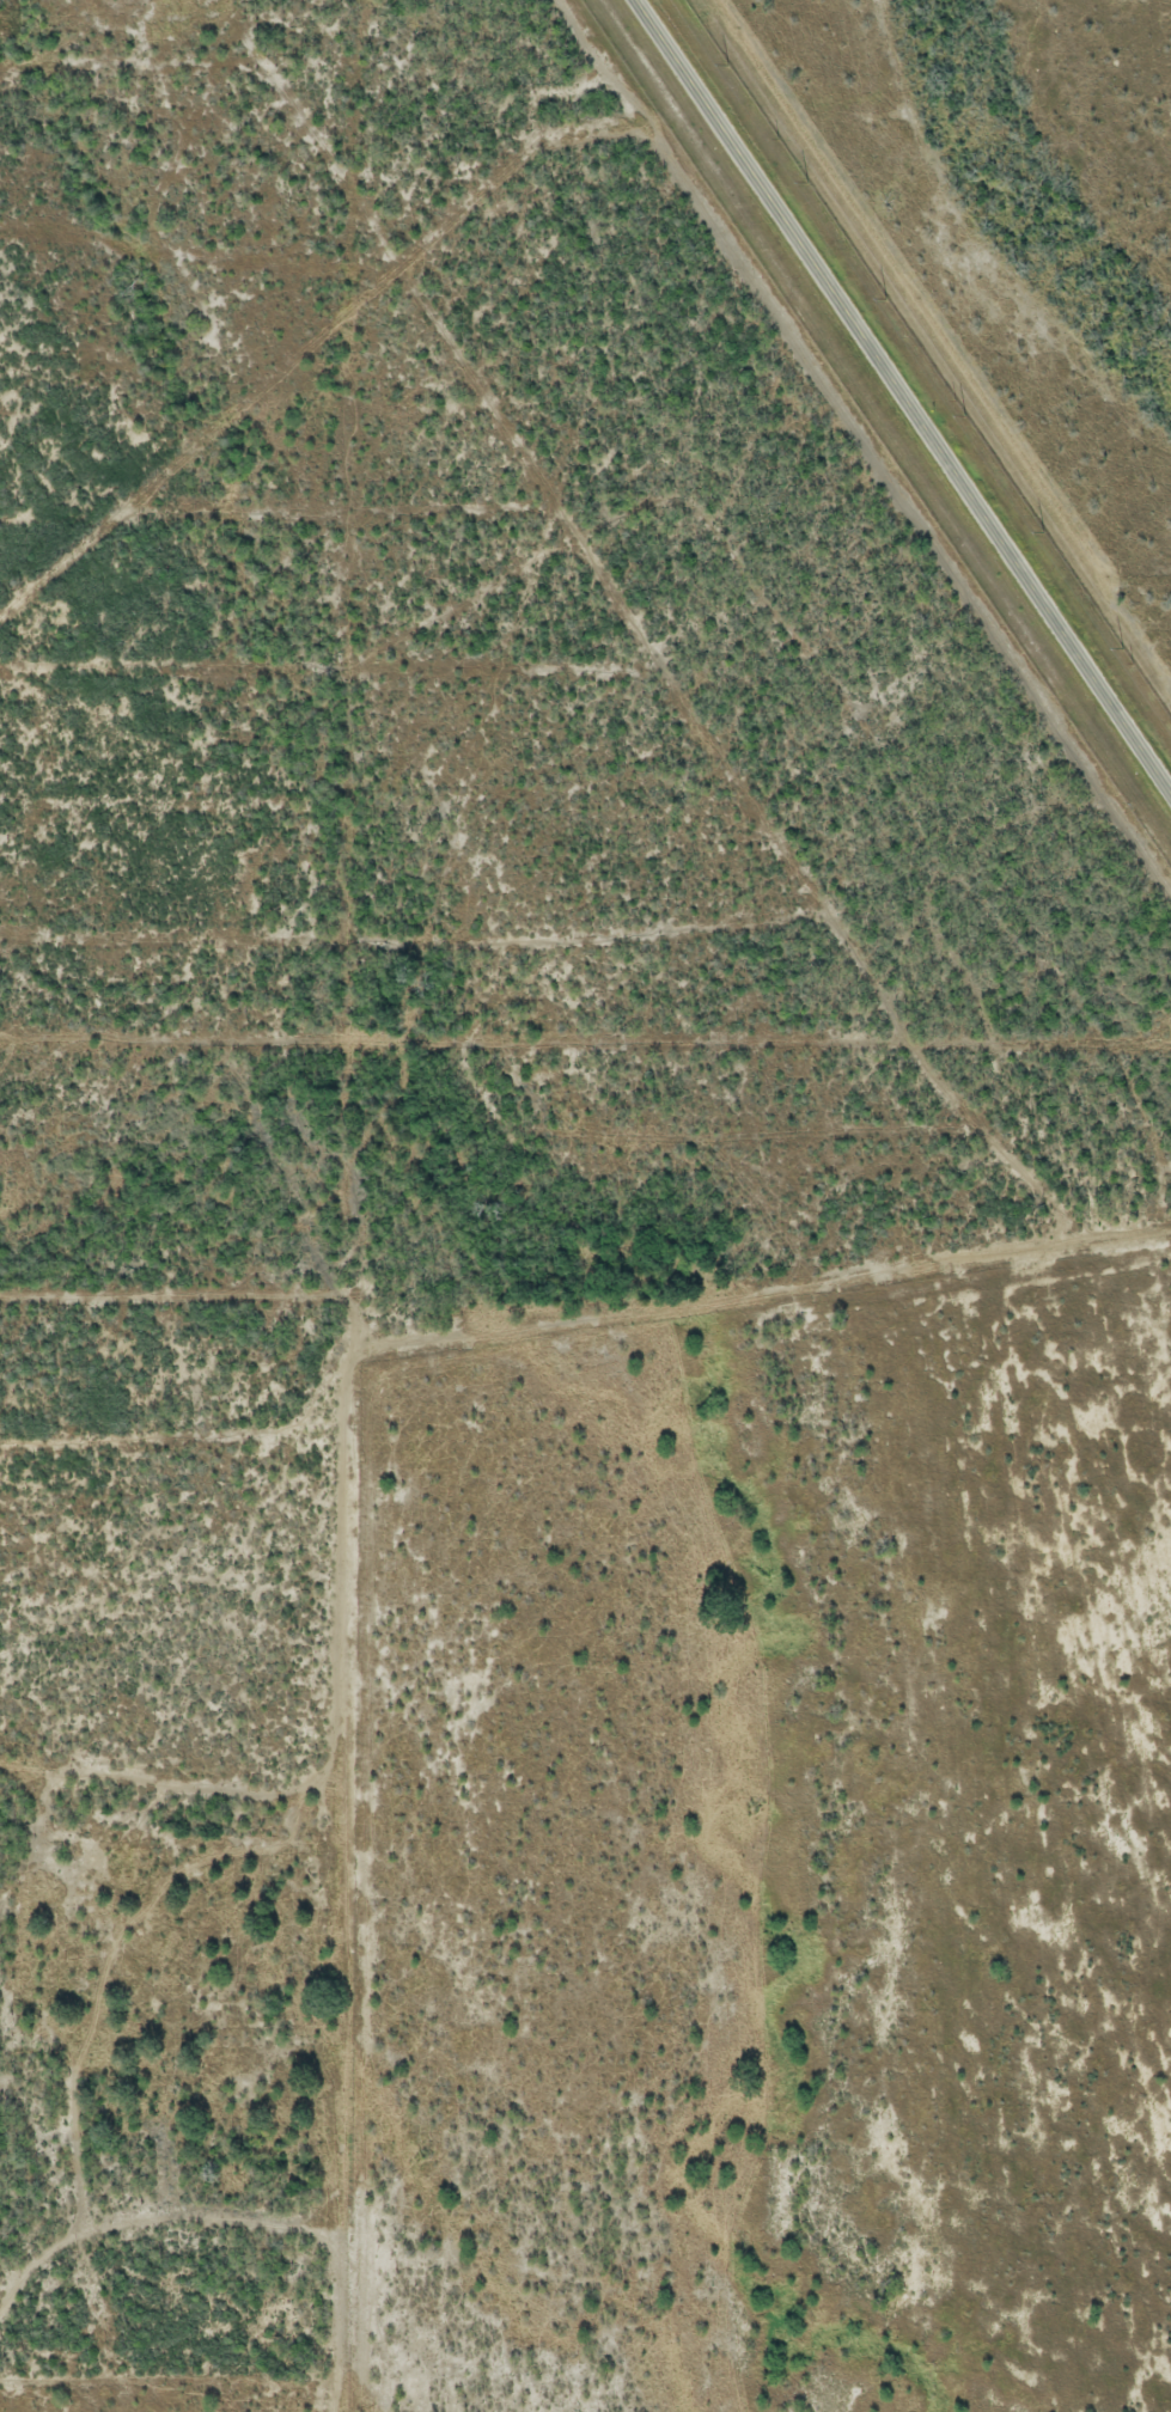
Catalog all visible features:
road: (903, 395)
building: (31, 1889)

